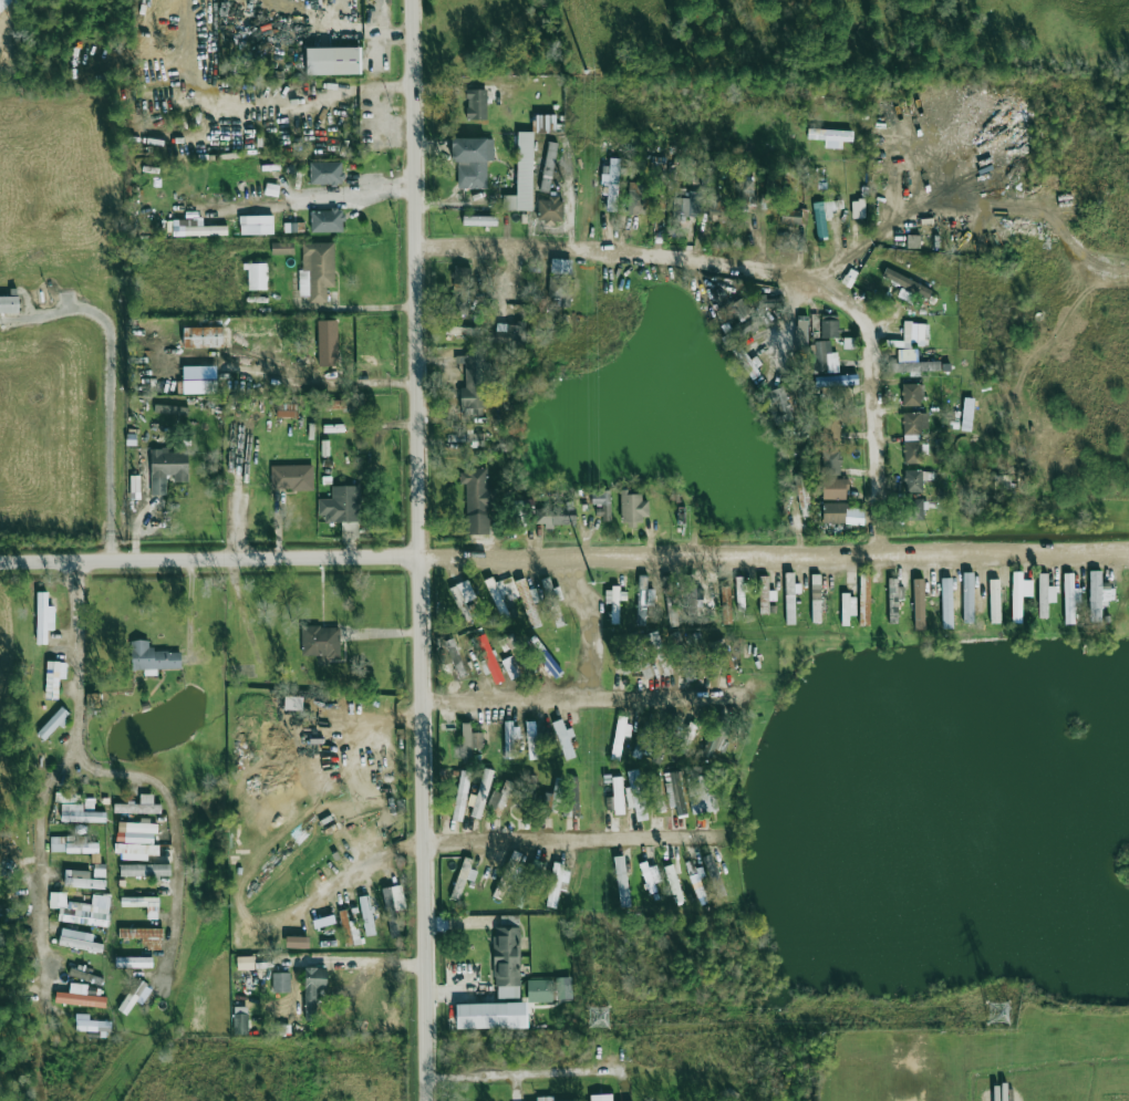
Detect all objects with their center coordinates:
road: (345, 24)
building: (333, 61)
power tower: (586, 72)
building: (476, 104)
building: (546, 123)
building: (820, 134)
building: (472, 160)
building: (548, 166)
building: (325, 173)
building: (521, 175)
building: (611, 183)
building: (271, 189)
building: (747, 193)
building: (636, 198)
road: (309, 200)
building: (688, 205)
building: (549, 209)
building: (794, 217)
building: (327, 220)
building: (479, 220)
building: (256, 225)
building: (293, 227)
building: (199, 228)
building: (913, 241)
building: (282, 248)
building: (317, 270)
building: (257, 277)
building: (560, 280)
building: (905, 282)
road: (765, 285)
building: (460, 290)
building: (767, 301)
building: (9, 304)
building: (737, 309)
building: (507, 326)
building: (829, 329)
building: (460, 330)
building: (914, 333)
building: (800, 335)
building: (203, 336)
building: (327, 342)
building: (824, 357)
building: (916, 366)
building: (836, 381)
building: (475, 382)
road: (110, 384)
building: (912, 394)
building: (343, 405)
building: (779, 405)
building: (170, 409)
building: (286, 409)
building: (830, 428)
building: (913, 436)
building: (831, 463)
building: (166, 469)
building: (291, 477)
building: (913, 480)
building: (835, 488)
building: (477, 501)
building: (602, 502)
building: (341, 505)
building: (633, 508)
building: (913, 509)
building: (841, 513)
building: (555, 516)
road: (421, 550)
road: (564, 554)
power tower: (592, 584)
building: (509, 589)
building: (790, 592)
building: (1098, 592)
building: (740, 593)
building: (765, 594)
building: (1019, 594)
building: (1045, 594)
building: (816, 598)
building: (1070, 598)
building: (497, 599)
building: (864, 599)
building: (643, 600)
building: (690, 600)
building: (725, 600)
building: (894, 600)
building: (464, 601)
building: (994, 601)
building: (528, 602)
building: (614, 602)
building: (961, 602)
building: (919, 604)
building: (847, 607)
building: (556, 614)
road: (593, 623)
building: (320, 641)
building: (511, 642)
building: (660, 653)
building: (701, 654)
building: (454, 655)
building: (543, 656)
building: (724, 656)
building: (153, 657)
building: (489, 658)
building: (511, 666)
building: (645, 669)
building: (52, 679)
road: (581, 698)
building: (53, 723)
building: (619, 736)
building: (687, 737)
building: (563, 738)
building: (509, 739)
building: (531, 739)
building: (469, 741)
building: (641, 741)
road: (48, 781)
road: (562, 782)
building: (674, 792)
building: (481, 793)
building: (618, 794)
building: (656, 794)
building: (701, 794)
building: (460, 796)
building: (635, 796)
building: (65, 797)
building: (499, 797)
building: (563, 797)
building: (138, 806)
building: (80, 813)
road: (173, 823)
building: (136, 831)
building: (72, 844)
road: (571, 851)
building: (145, 869)
building: (99, 870)
building: (694, 871)
building: (506, 874)
building: (714, 875)
building: (464, 876)
building: (650, 876)
building: (82, 880)
building: (621, 880)
building: (528, 882)
building: (673, 883)
building: (555, 884)
building: (700, 892)
building: (393, 897)
building: (143, 904)
building: (79, 911)
building: (366, 915)
building: (349, 929)
building: (143, 935)
building: (79, 941)
road: (351, 960)
building: (133, 962)
building: (245, 963)
building: (506, 963)
building: (84, 976)
building: (280, 983)
building: (563, 988)
building: (313, 989)
building: (539, 990)
building: (132, 996)
building: (79, 997)
building: (490, 1015)
power tower: (999, 1015)
power tower: (598, 1018)
building: (240, 1021)
building: (90, 1024)
road: (525, 1071)
building: (545, 1098)
building: (600, 1098)

